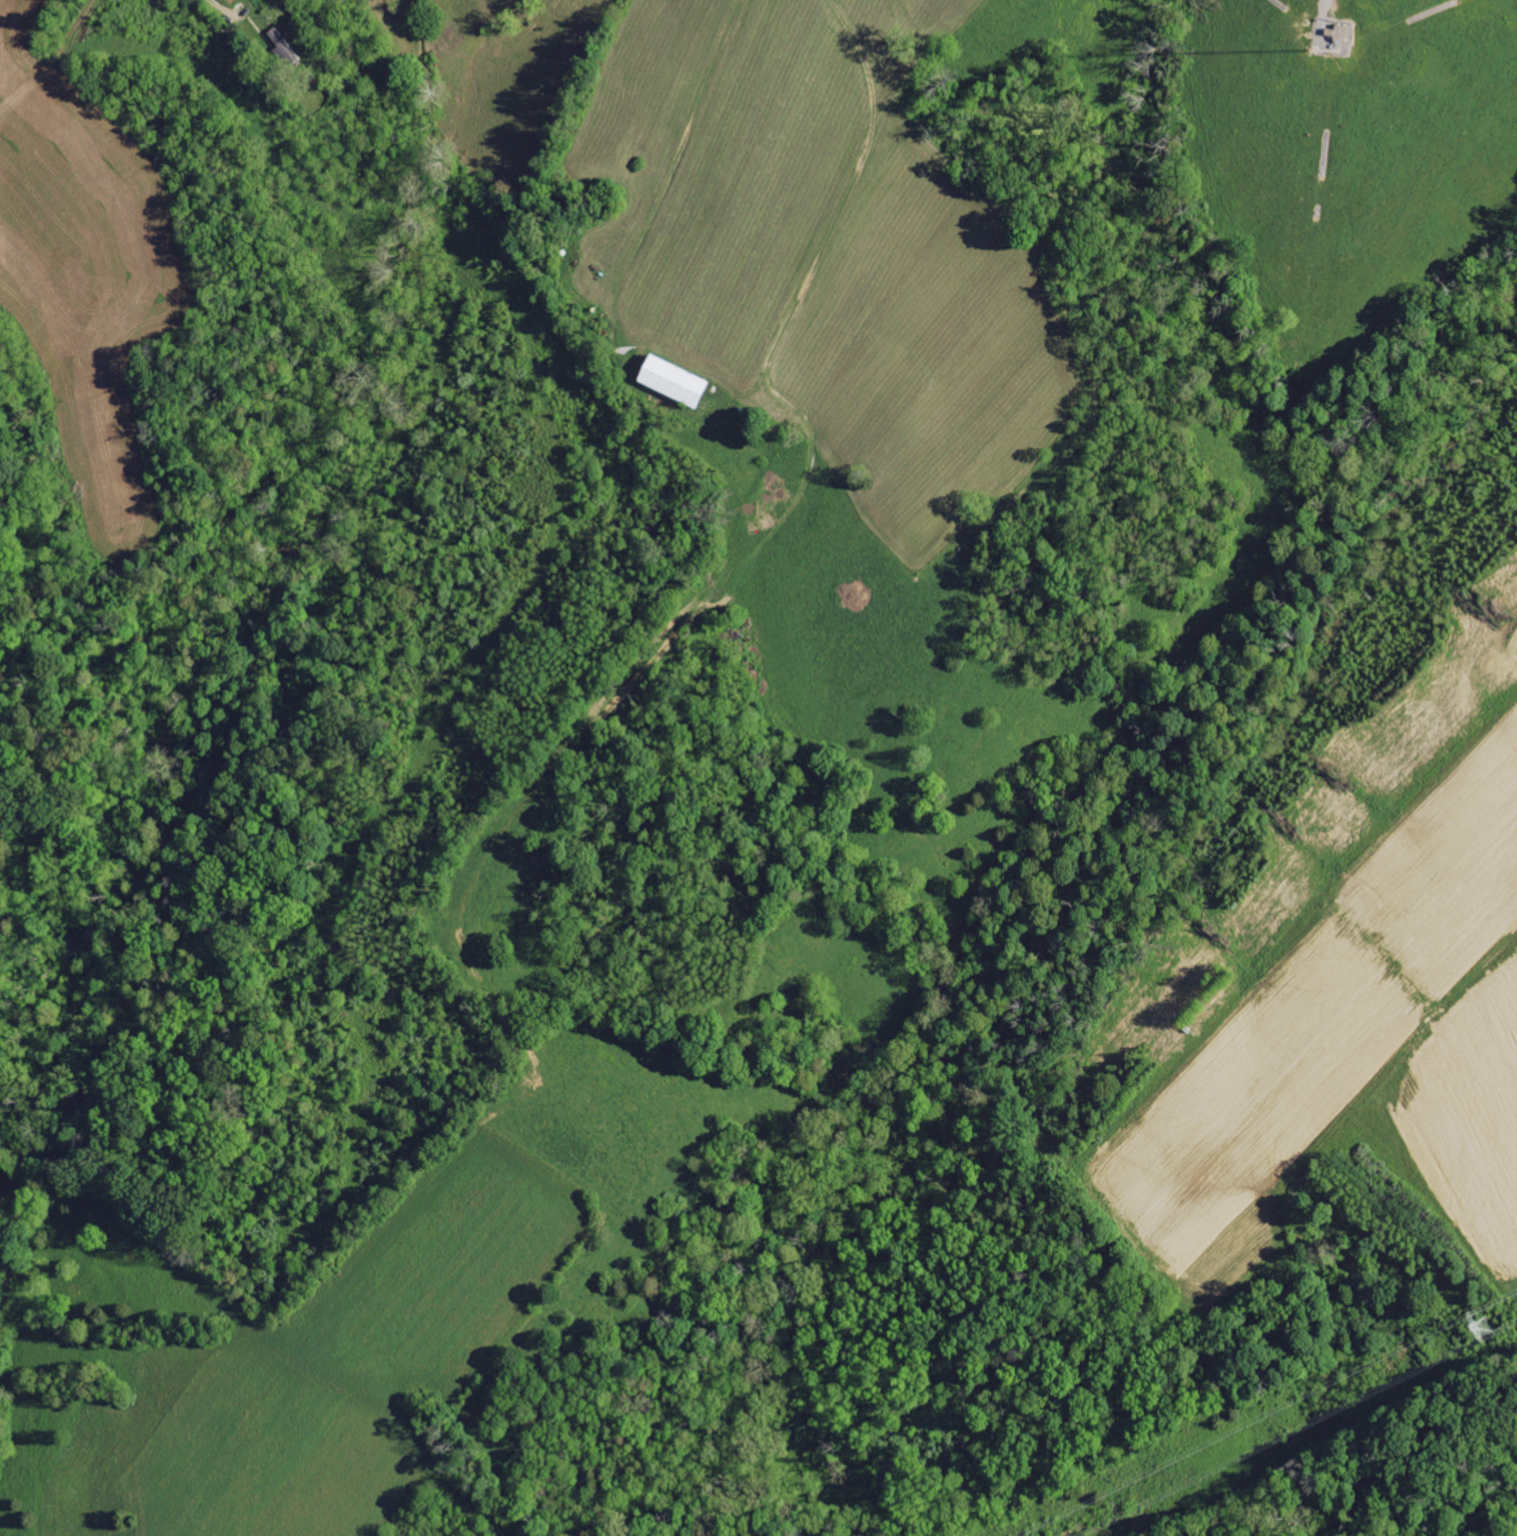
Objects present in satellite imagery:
building: (1341, 32)
road: (858, 180)
building: (674, 379)
power tower: (1484, 1326)

